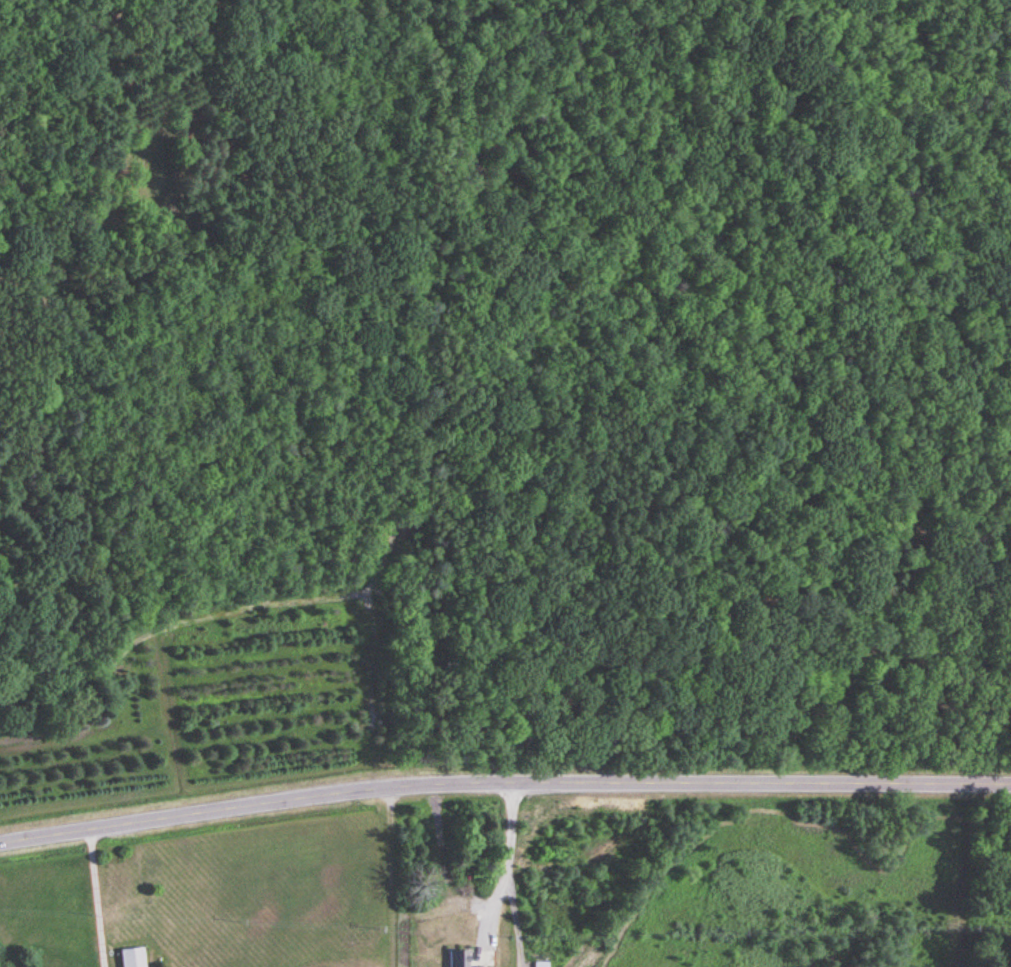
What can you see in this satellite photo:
road: (720, 783)
road: (214, 810)
road: (501, 865)
road: (91, 898)
building: (133, 958)
building: (458, 958)

